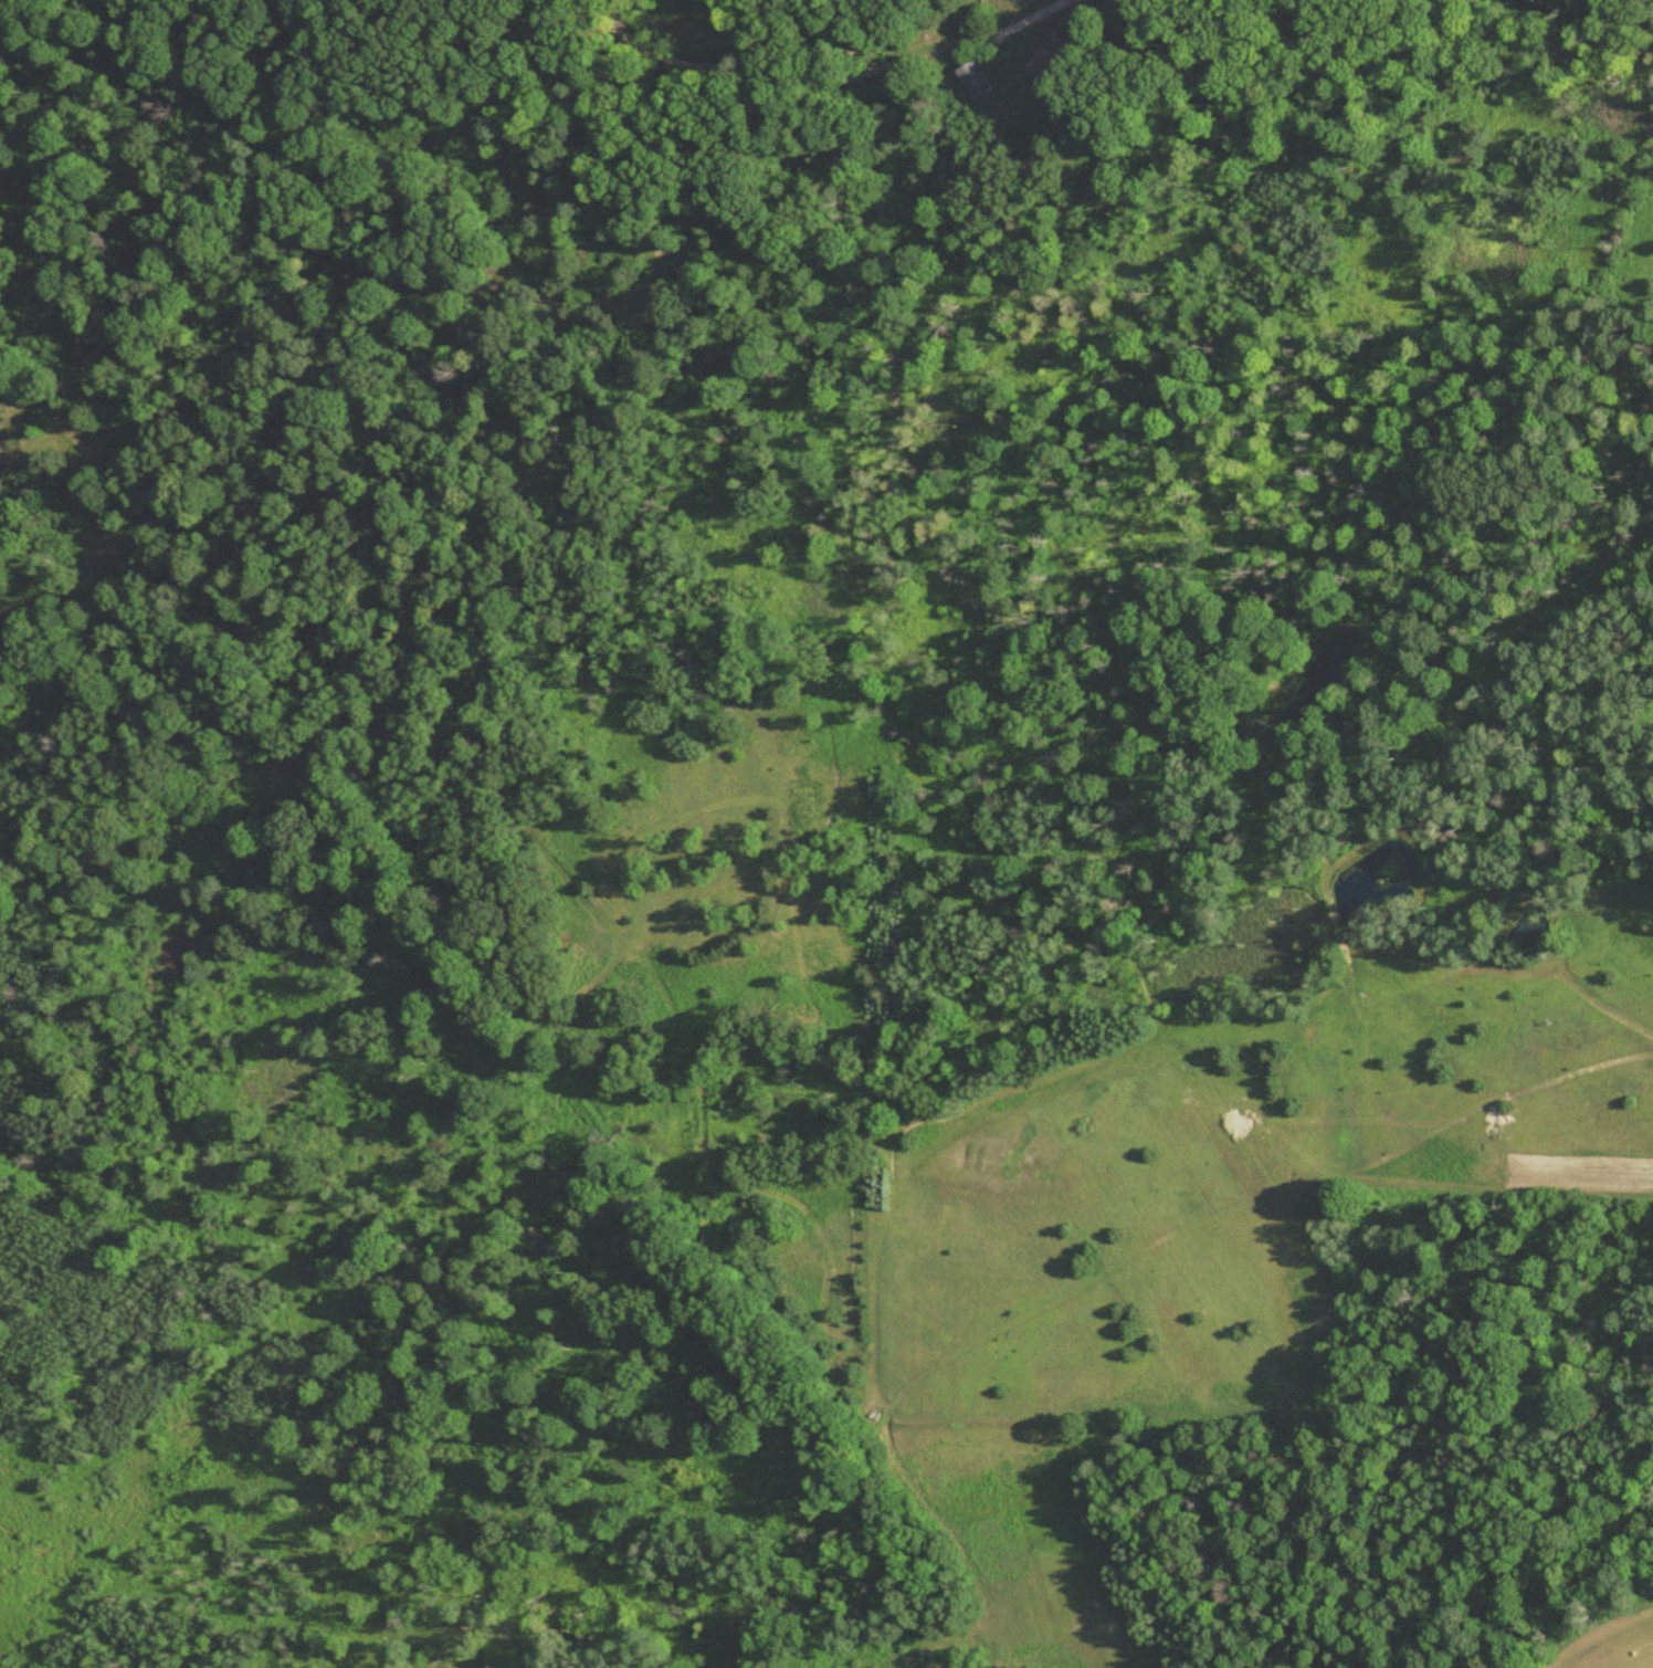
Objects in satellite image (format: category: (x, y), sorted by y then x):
road: (825, 74)
building: (976, 77)
road: (312, 250)
road: (257, 669)
road: (491, 745)
road: (577, 992)
road: (1176, 1229)

